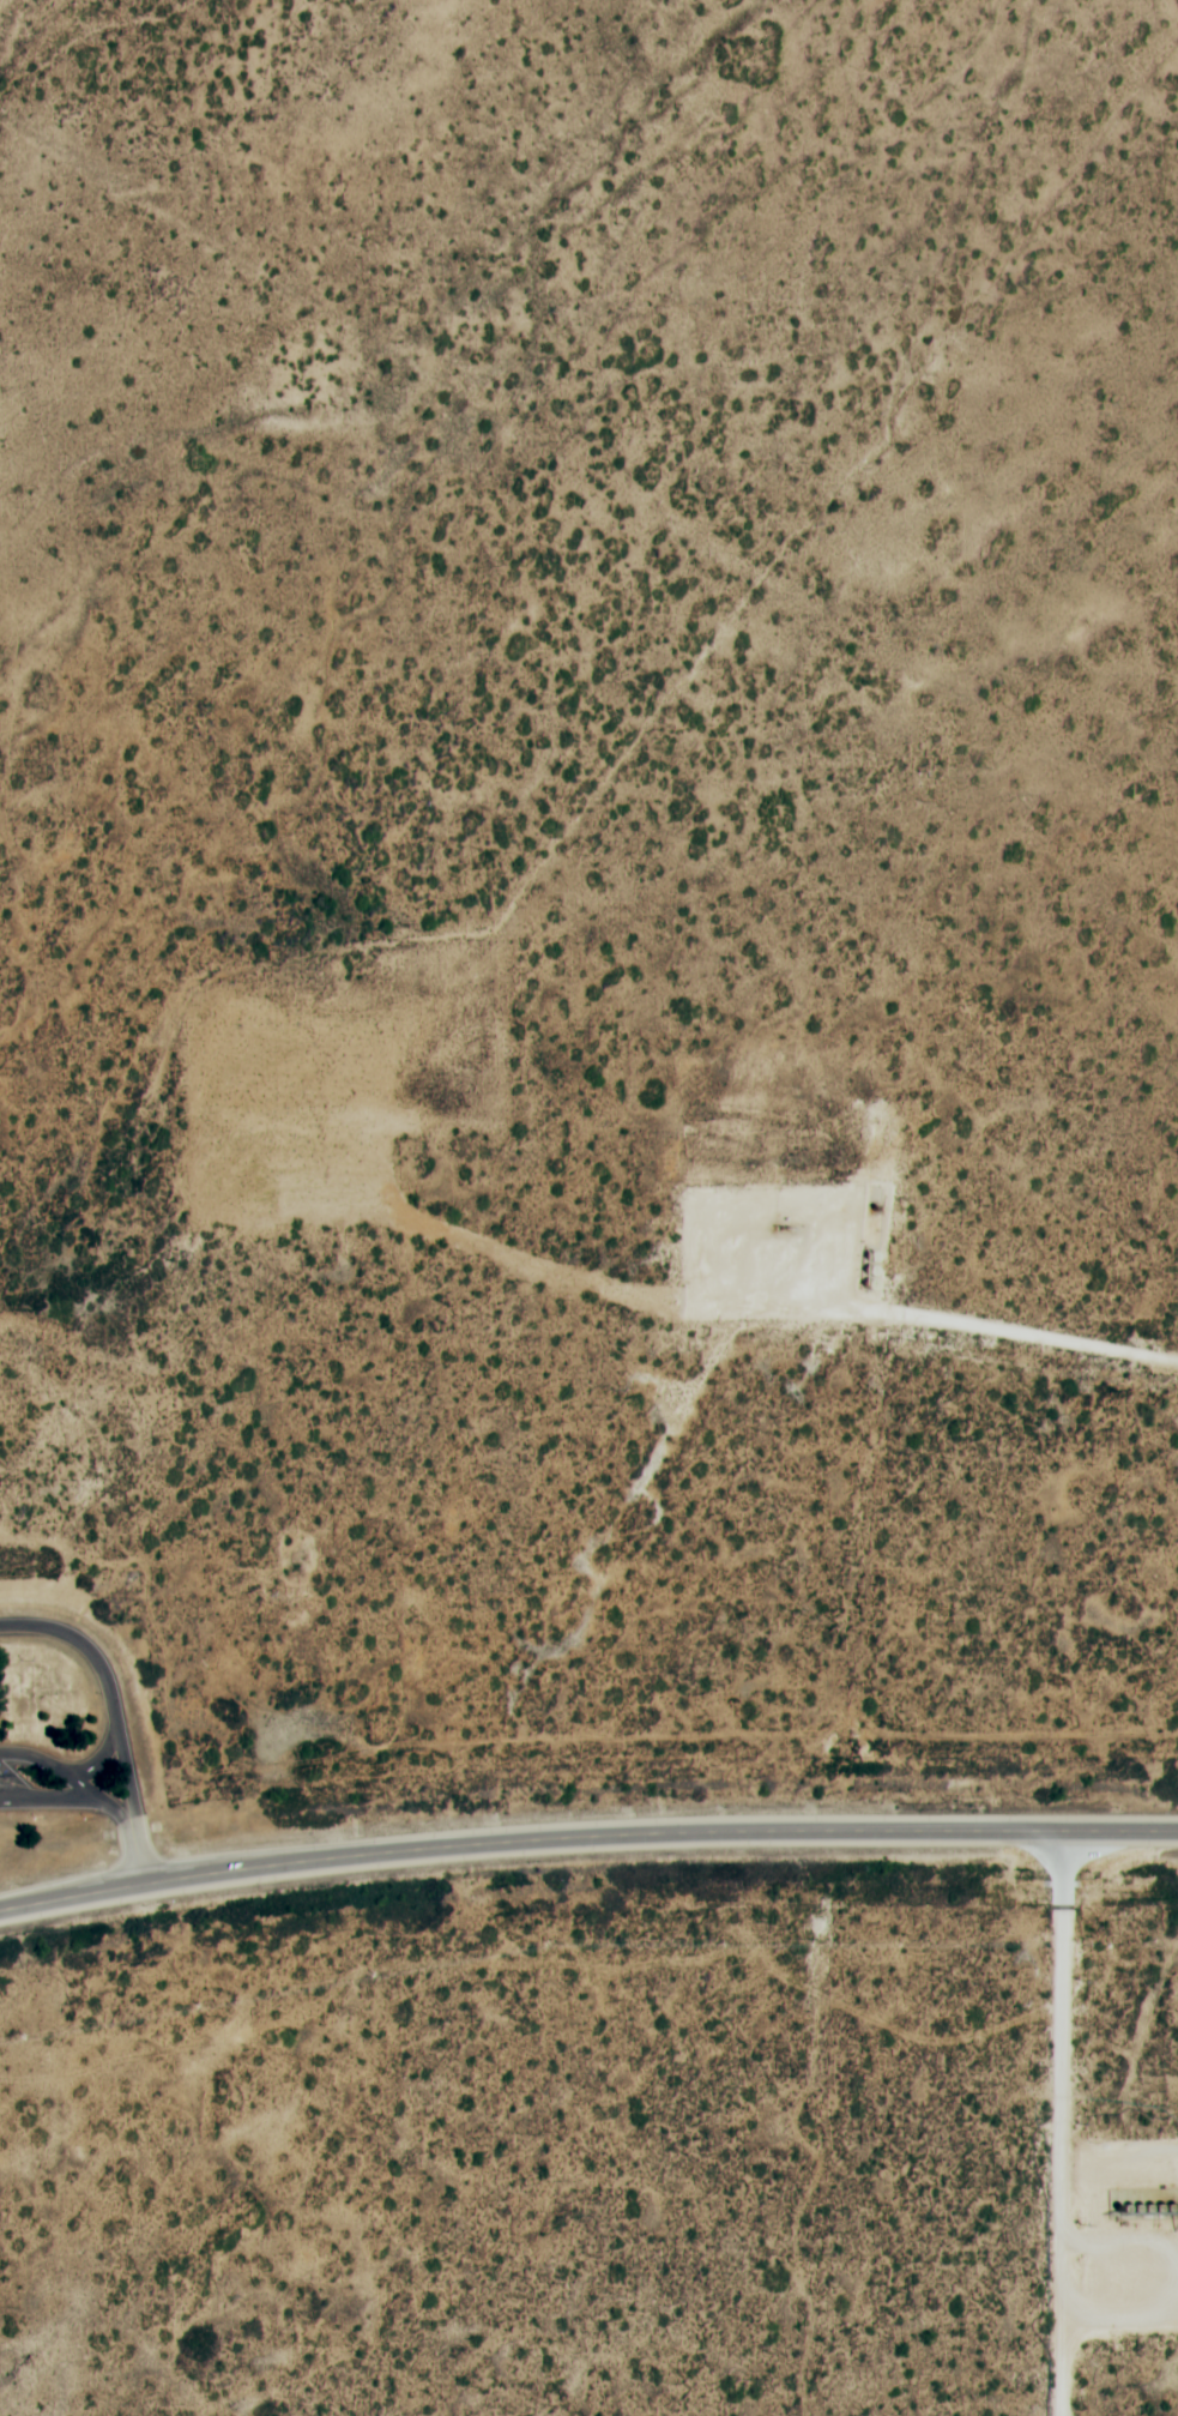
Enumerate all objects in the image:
road: (122, 1754)
road: (73, 1779)
road: (586, 1843)
road: (138, 1855)

